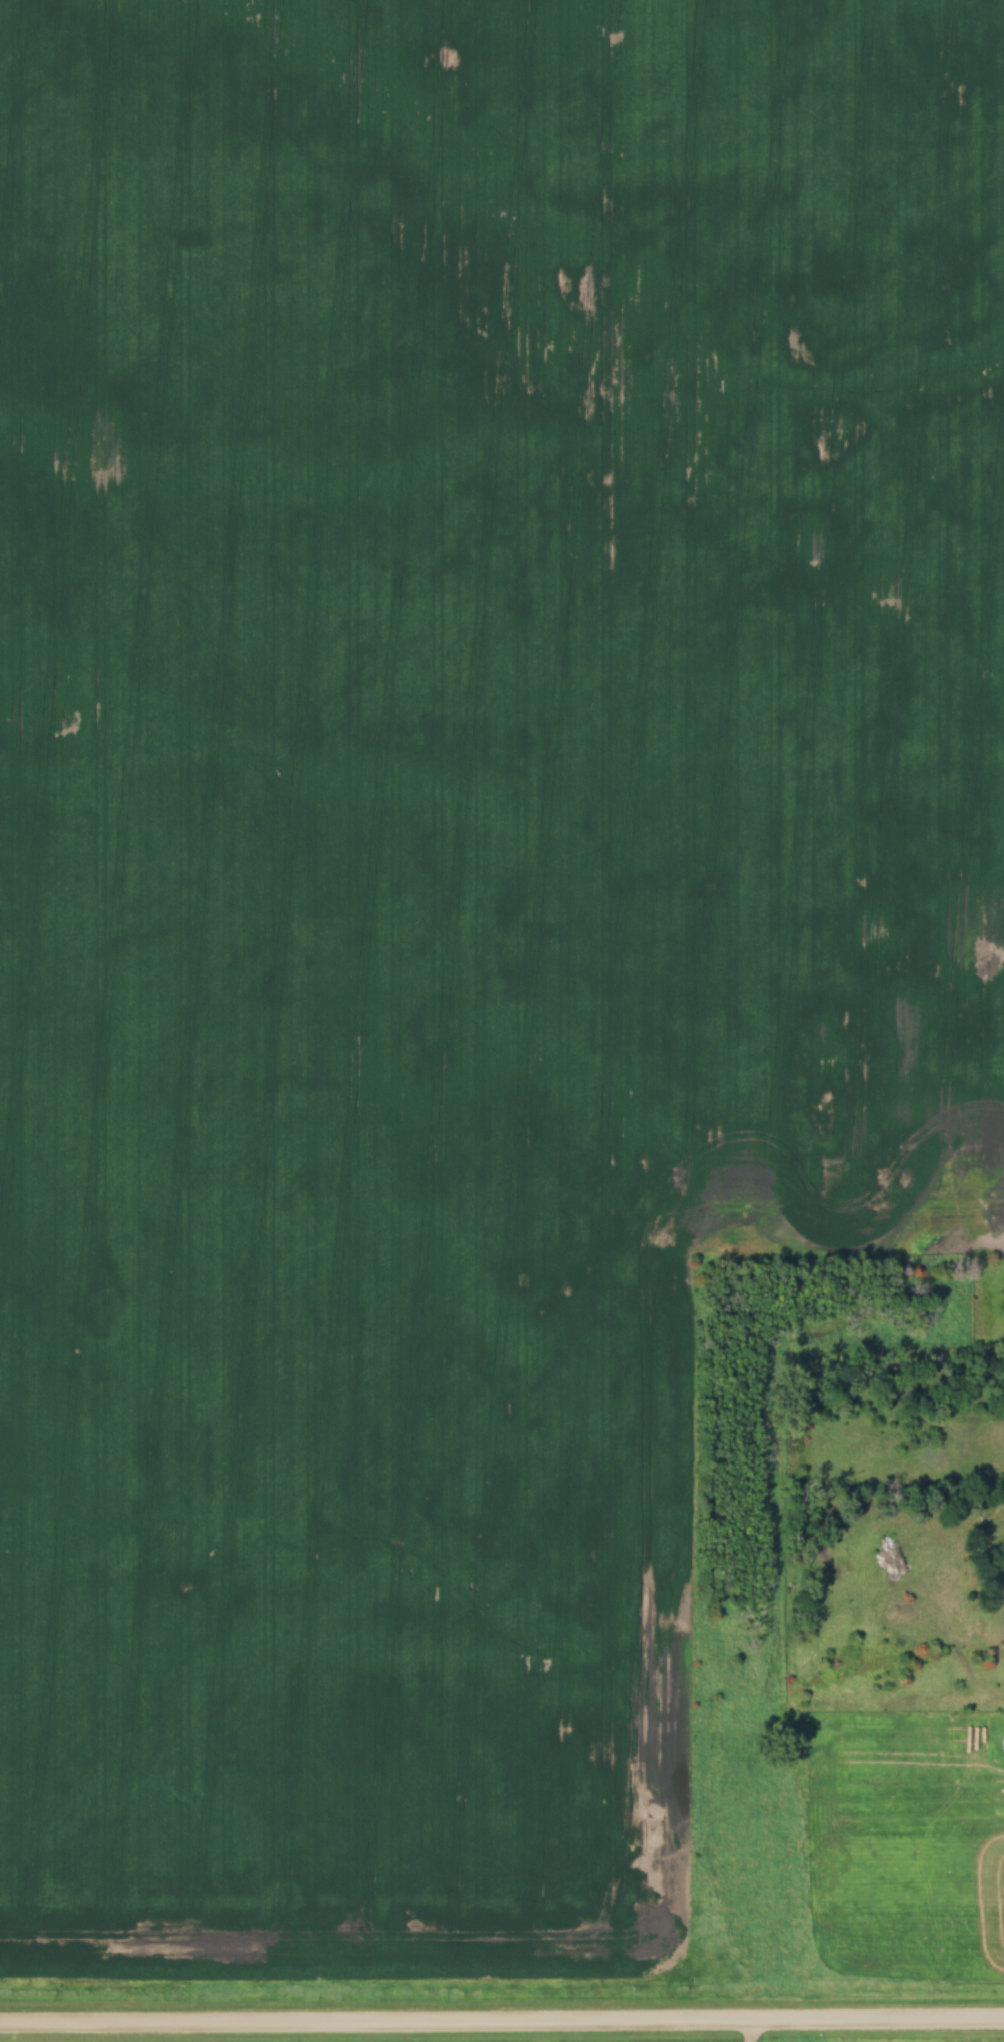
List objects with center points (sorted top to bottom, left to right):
building: (888, 1555)
road: (502, 2025)

